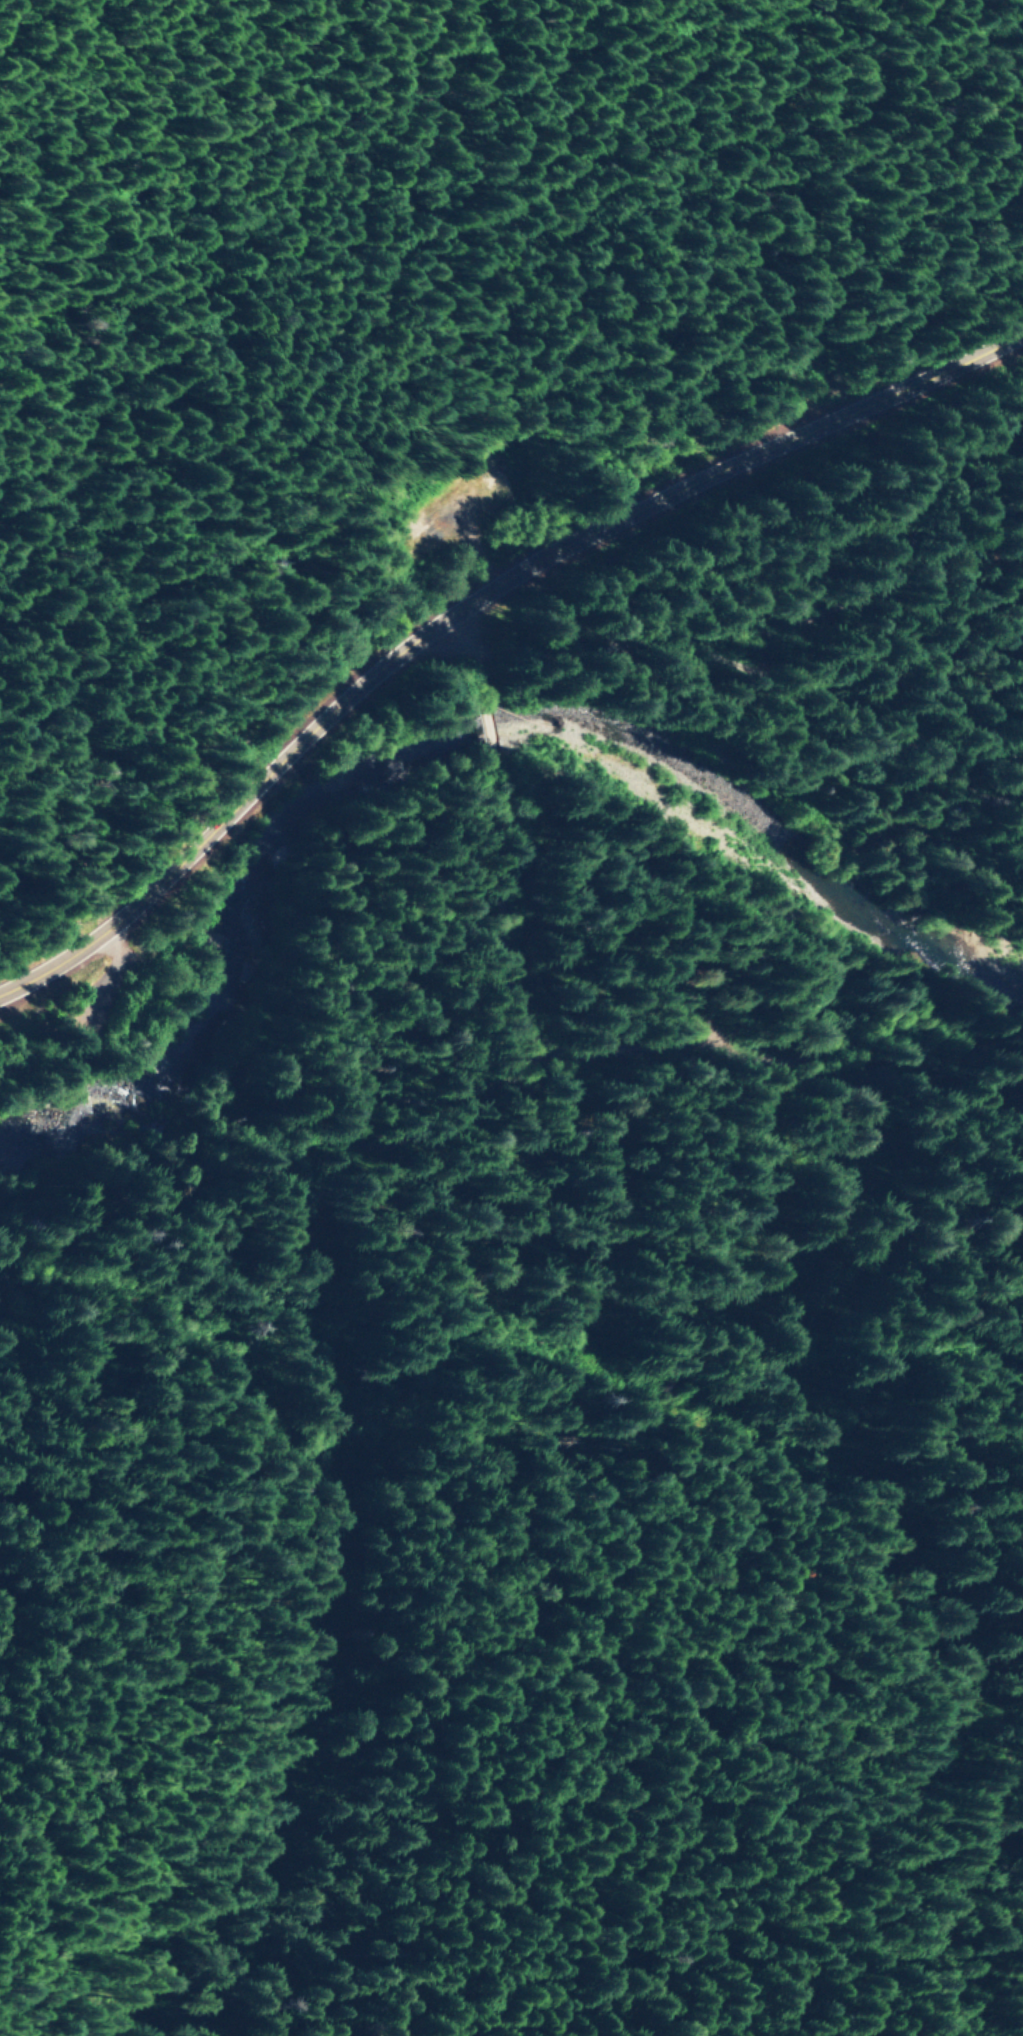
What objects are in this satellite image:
road: (321, 196)
road: (457, 596)
road: (736, 620)
river: (440, 738)
road: (520, 852)
road: (788, 1039)
road: (273, 1212)

